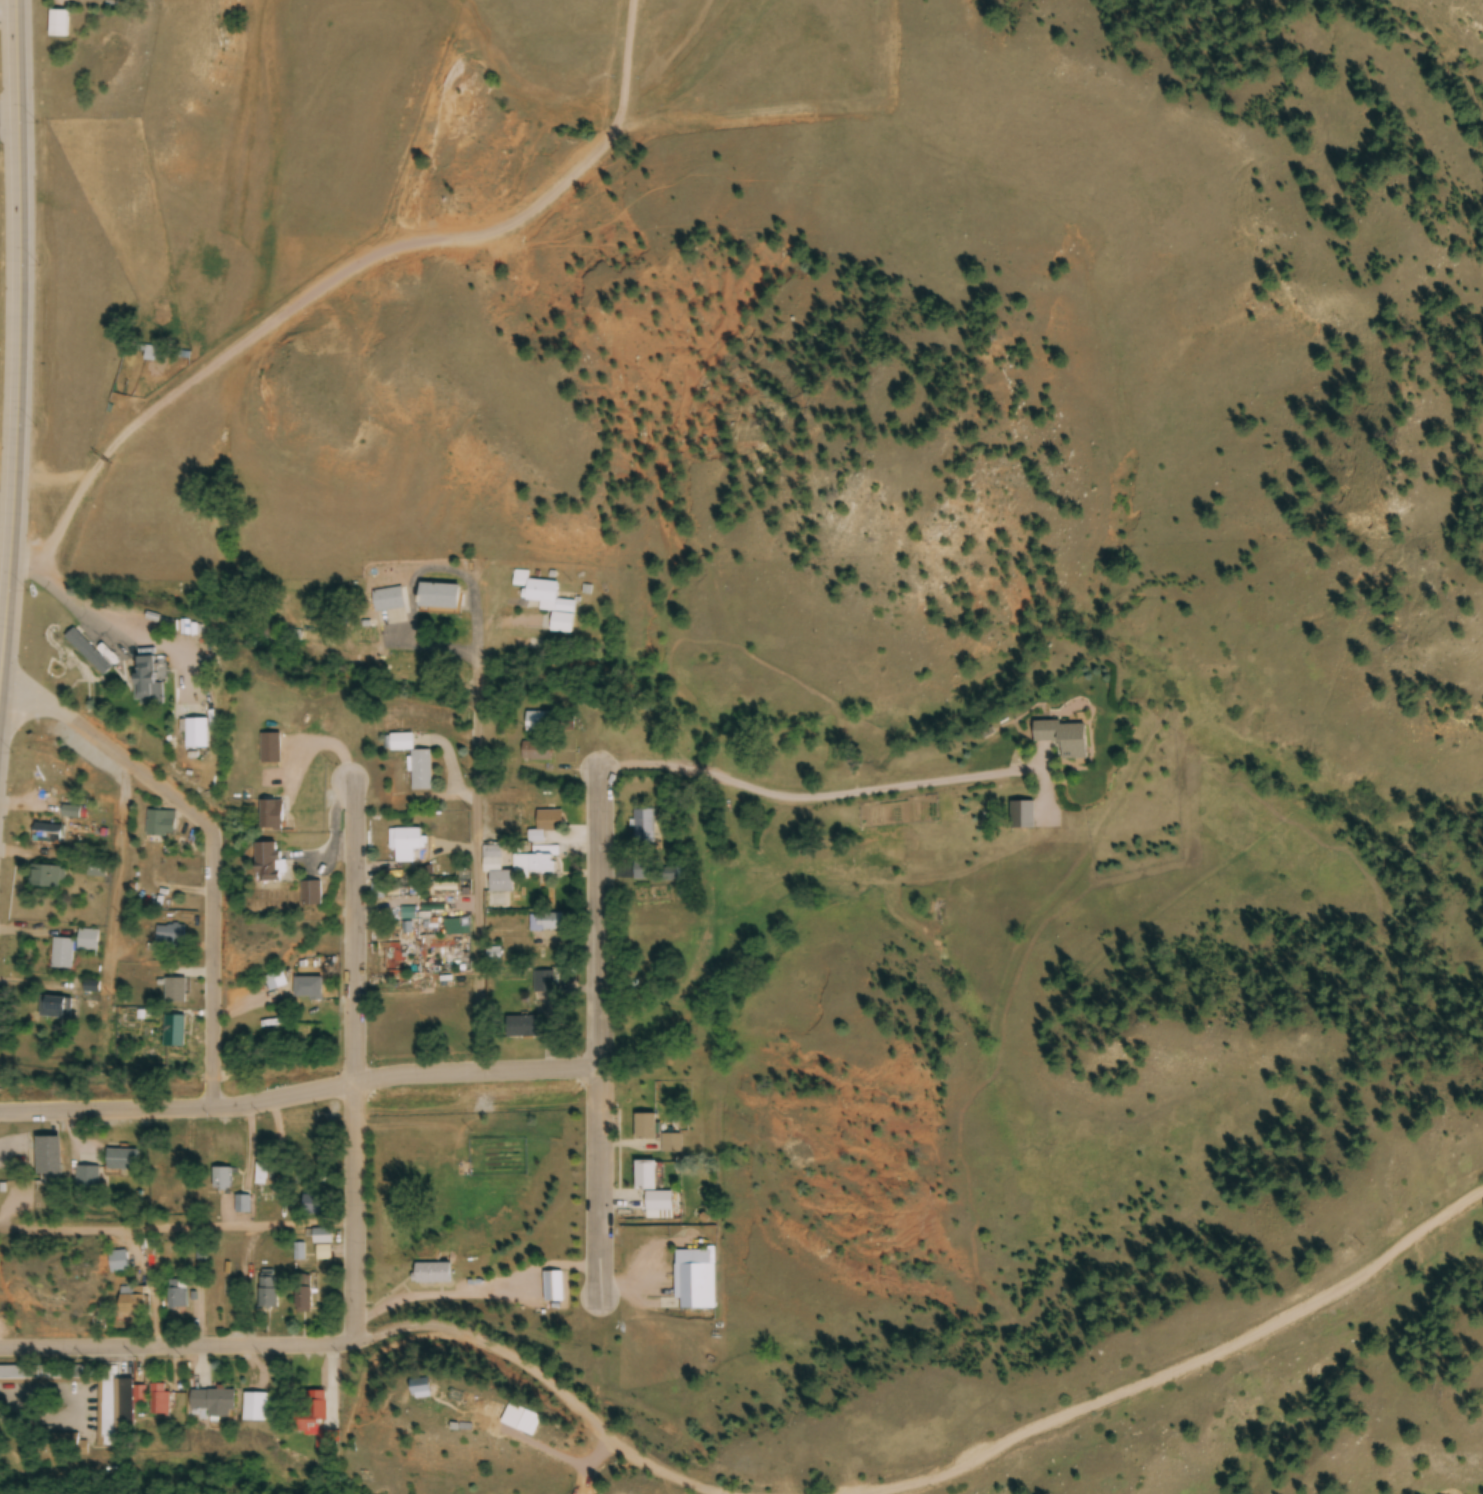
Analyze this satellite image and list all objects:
building: (58, 24)
road: (7, 127)
road: (350, 264)
road: (11, 277)
building: (152, 354)
building: (536, 589)
building: (438, 597)
building: (388, 600)
road: (90, 612)
road: (2, 621)
building: (88, 653)
building: (146, 682)
building: (539, 723)
building: (196, 735)
building: (1064, 739)
building: (270, 750)
building: (537, 752)
building: (421, 771)
building: (71, 813)
building: (1022, 816)
building: (270, 817)
building: (159, 824)
building: (644, 828)
building: (47, 834)
road: (202, 844)
building: (405, 845)
building: (493, 855)
building: (531, 855)
building: (266, 864)
building: (97, 868)
building: (47, 878)
building: (310, 894)
road: (478, 905)
building: (546, 923)
building: (170, 938)
building: (88, 940)
building: (63, 954)
building: (394, 959)
building: (275, 981)
building: (90, 987)
building: (308, 989)
building: (544, 990)
building: (175, 992)
building: (58, 1009)
road: (597, 1021)
building: (521, 1028)
building: (174, 1032)
road: (355, 1065)
road: (298, 1094)
building: (645, 1128)
building: (672, 1145)
building: (48, 1158)
building: (122, 1161)
building: (171, 1173)
building: (265, 1175)
building: (87, 1179)
building: (223, 1180)
building: (651, 1188)
building: (313, 1204)
road: (176, 1228)
building: (322, 1238)
building: (299, 1255)
building: (323, 1255)
building: (118, 1263)
building: (432, 1274)
building: (695, 1280)
building: (553, 1288)
building: (268, 1293)
building: (177, 1295)
building: (302, 1295)
building: (131, 1303)
road: (177, 1347)
road: (1181, 1349)
building: (40, 1374)
road: (546, 1383)
building: (422, 1391)
building: (159, 1402)
building: (213, 1404)
building: (106, 1408)
building: (255, 1409)
building: (308, 1411)
building: (61, 1446)

